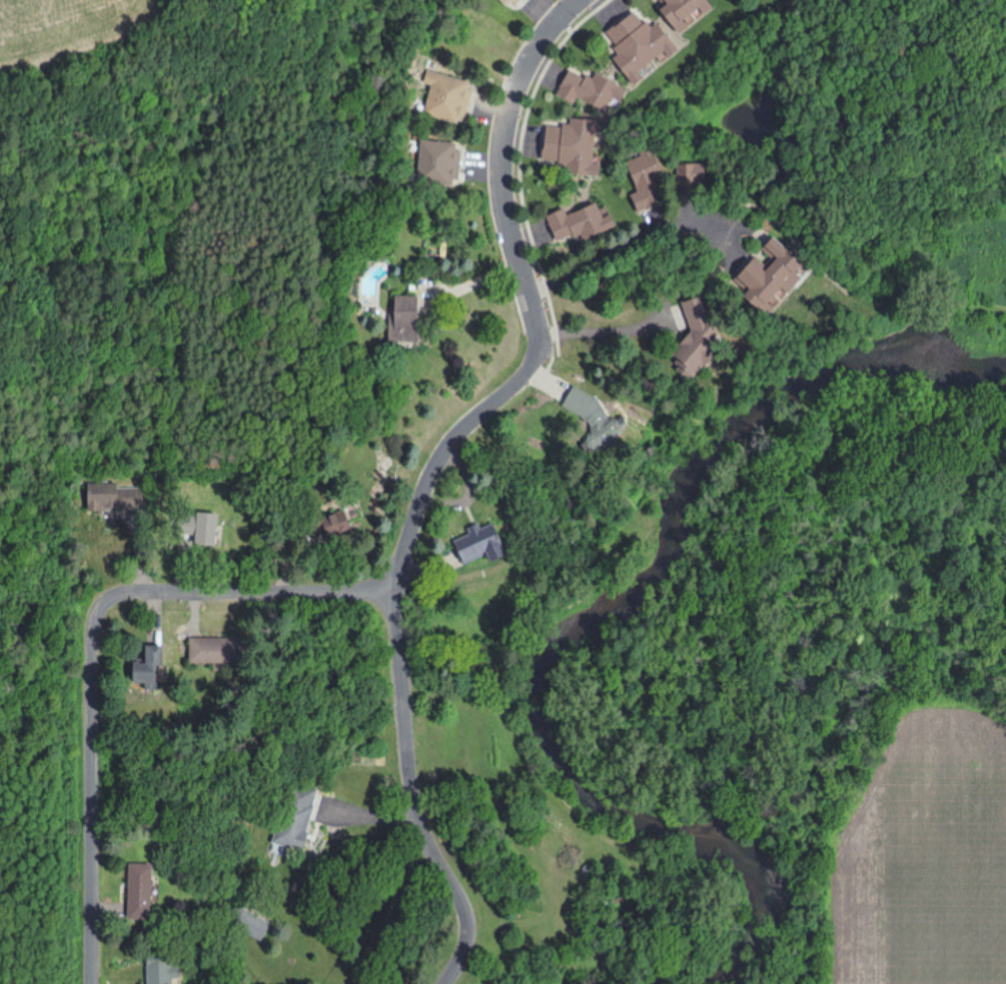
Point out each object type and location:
building: (510, 3)
building: (674, 13)
crop: (72, 38)
building: (630, 44)
building: (584, 91)
building: (442, 99)
building: (564, 145)
building: (434, 165)
building: (687, 178)
building: (642, 183)
building: (570, 222)
road: (618, 257)
building: (760, 279)
park: (926, 297)
road: (536, 312)
building: (397, 318)
road: (606, 332)
building: (686, 363)
river: (910, 391)
building: (581, 407)
building: (96, 497)
building: (315, 524)
building: (198, 530)
building: (469, 544)
road: (89, 650)
building: (204, 651)
building: (154, 669)
river: (541, 689)
road: (413, 798)
building: (292, 817)
crop: (920, 861)
building: (146, 893)
building: (169, 971)

